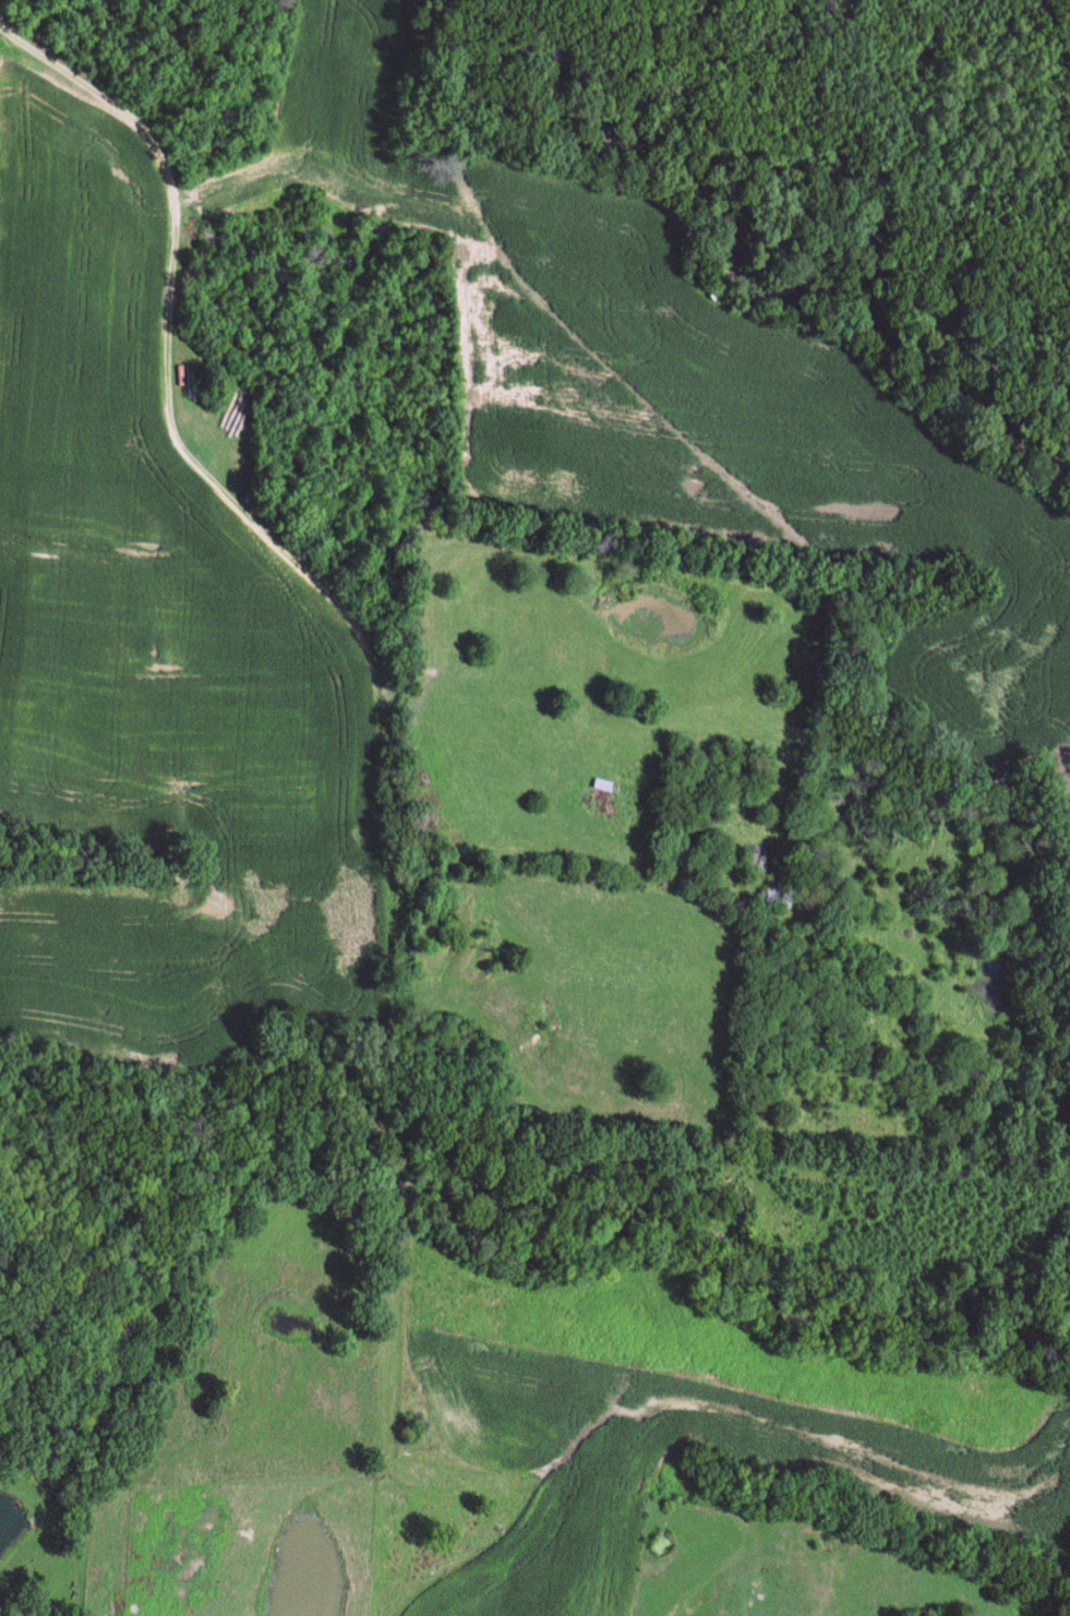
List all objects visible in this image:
road: (254, 513)
building: (772, 899)

